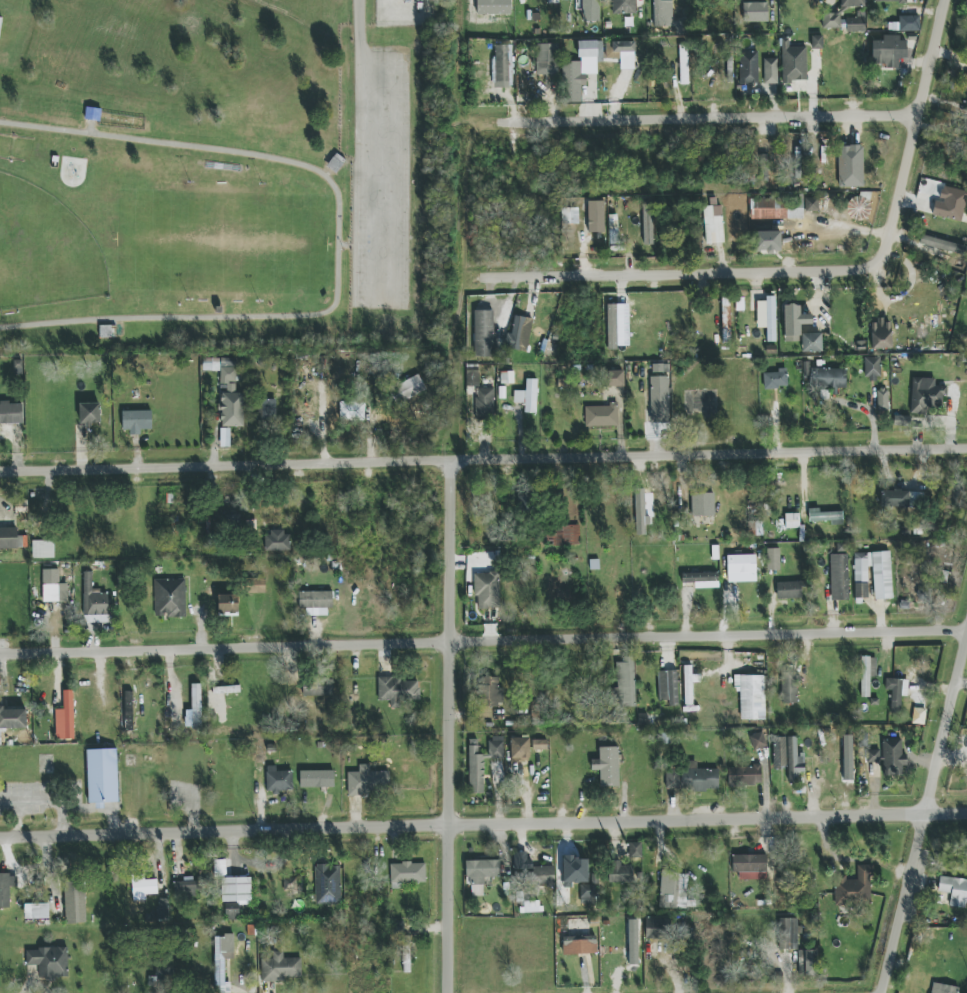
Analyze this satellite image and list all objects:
building: (889, 1)
building: (852, 3)
building: (624, 7)
building: (590, 11)
building: (755, 12)
building: (657, 13)
building: (831, 20)
building: (0, 22)
building: (855, 24)
building: (682, 28)
building: (816, 42)
building: (584, 48)
road: (359, 51)
building: (889, 51)
building: (621, 53)
building: (543, 58)
building: (793, 63)
building: (503, 66)
building: (748, 67)
building: (770, 71)
building: (684, 74)
building: (966, 84)
road: (715, 117)
building: (86, 118)
building: (850, 166)
building: (950, 203)
building: (811, 204)
parking lot: (378, 205)
park: (173, 206)
building: (776, 207)
building: (858, 207)
building: (566, 216)
building: (596, 216)
building: (713, 225)
building: (647, 226)
building: (613, 229)
building: (767, 241)
road: (335, 242)
park: (221, 244)
park: (44, 252)
road: (820, 273)
building: (767, 317)
building: (726, 320)
building: (794, 322)
building: (611, 327)
building: (483, 333)
building: (519, 334)
building: (880, 334)
building: (811, 342)
building: (872, 368)
building: (825, 377)
building: (615, 378)
building: (775, 379)
building: (407, 390)
building: (227, 391)
building: (659, 393)
building: (479, 395)
building: (926, 395)
building: (528, 396)
building: (882, 400)
building: (266, 410)
building: (352, 410)
building: (11, 413)
building: (90, 413)
building: (601, 416)
building: (136, 420)
road: (483, 459)
building: (902, 498)
building: (702, 504)
building: (640, 513)
building: (825, 517)
building: (230, 521)
building: (792, 521)
building: (251, 527)
building: (562, 534)
building: (9, 538)
building: (277, 541)
building: (43, 549)
building: (773, 559)
building: (741, 564)
building: (873, 574)
building: (839, 577)
building: (701, 580)
building: (257, 586)
building: (53, 587)
building: (487, 590)
building: (789, 590)
building: (93, 598)
building: (170, 598)
building: (315, 602)
building: (228, 605)
road: (483, 640)
building: (867, 674)
building: (625, 682)
building: (689, 684)
building: (317, 687)
building: (668, 687)
building: (789, 688)
building: (226, 690)
building: (397, 691)
building: (493, 692)
building: (896, 692)
building: (751, 696)
building: (196, 706)
building: (129, 711)
building: (919, 716)
building: (13, 718)
road: (449, 726)
building: (757, 741)
building: (540, 745)
building: (520, 748)
building: (779, 752)
building: (874, 756)
building: (892, 756)
building: (482, 761)
building: (794, 761)
building: (607, 766)
building: (102, 776)
building: (744, 776)
building: (317, 779)
building: (691, 779)
building: (368, 781)
building: (279, 782)
road: (923, 811)
road: (483, 826)
building: (635, 852)
building: (521, 862)
building: (749, 866)
building: (574, 870)
building: (481, 873)
building: (619, 873)
building: (407, 874)
building: (544, 876)
building: (327, 884)
building: (6, 888)
building: (143, 888)
building: (854, 888)
building: (186, 889)
building: (235, 889)
building: (682, 890)
building: (954, 891)
building: (587, 894)
building: (75, 902)
building: (36, 911)
building: (162, 911)
building: (231, 911)
building: (658, 929)
building: (788, 934)
building: (579, 945)
building: (405, 960)
building: (222, 961)
building: (49, 962)
building: (807, 963)
building: (280, 968)
building: (162, 976)
building: (943, 988)

